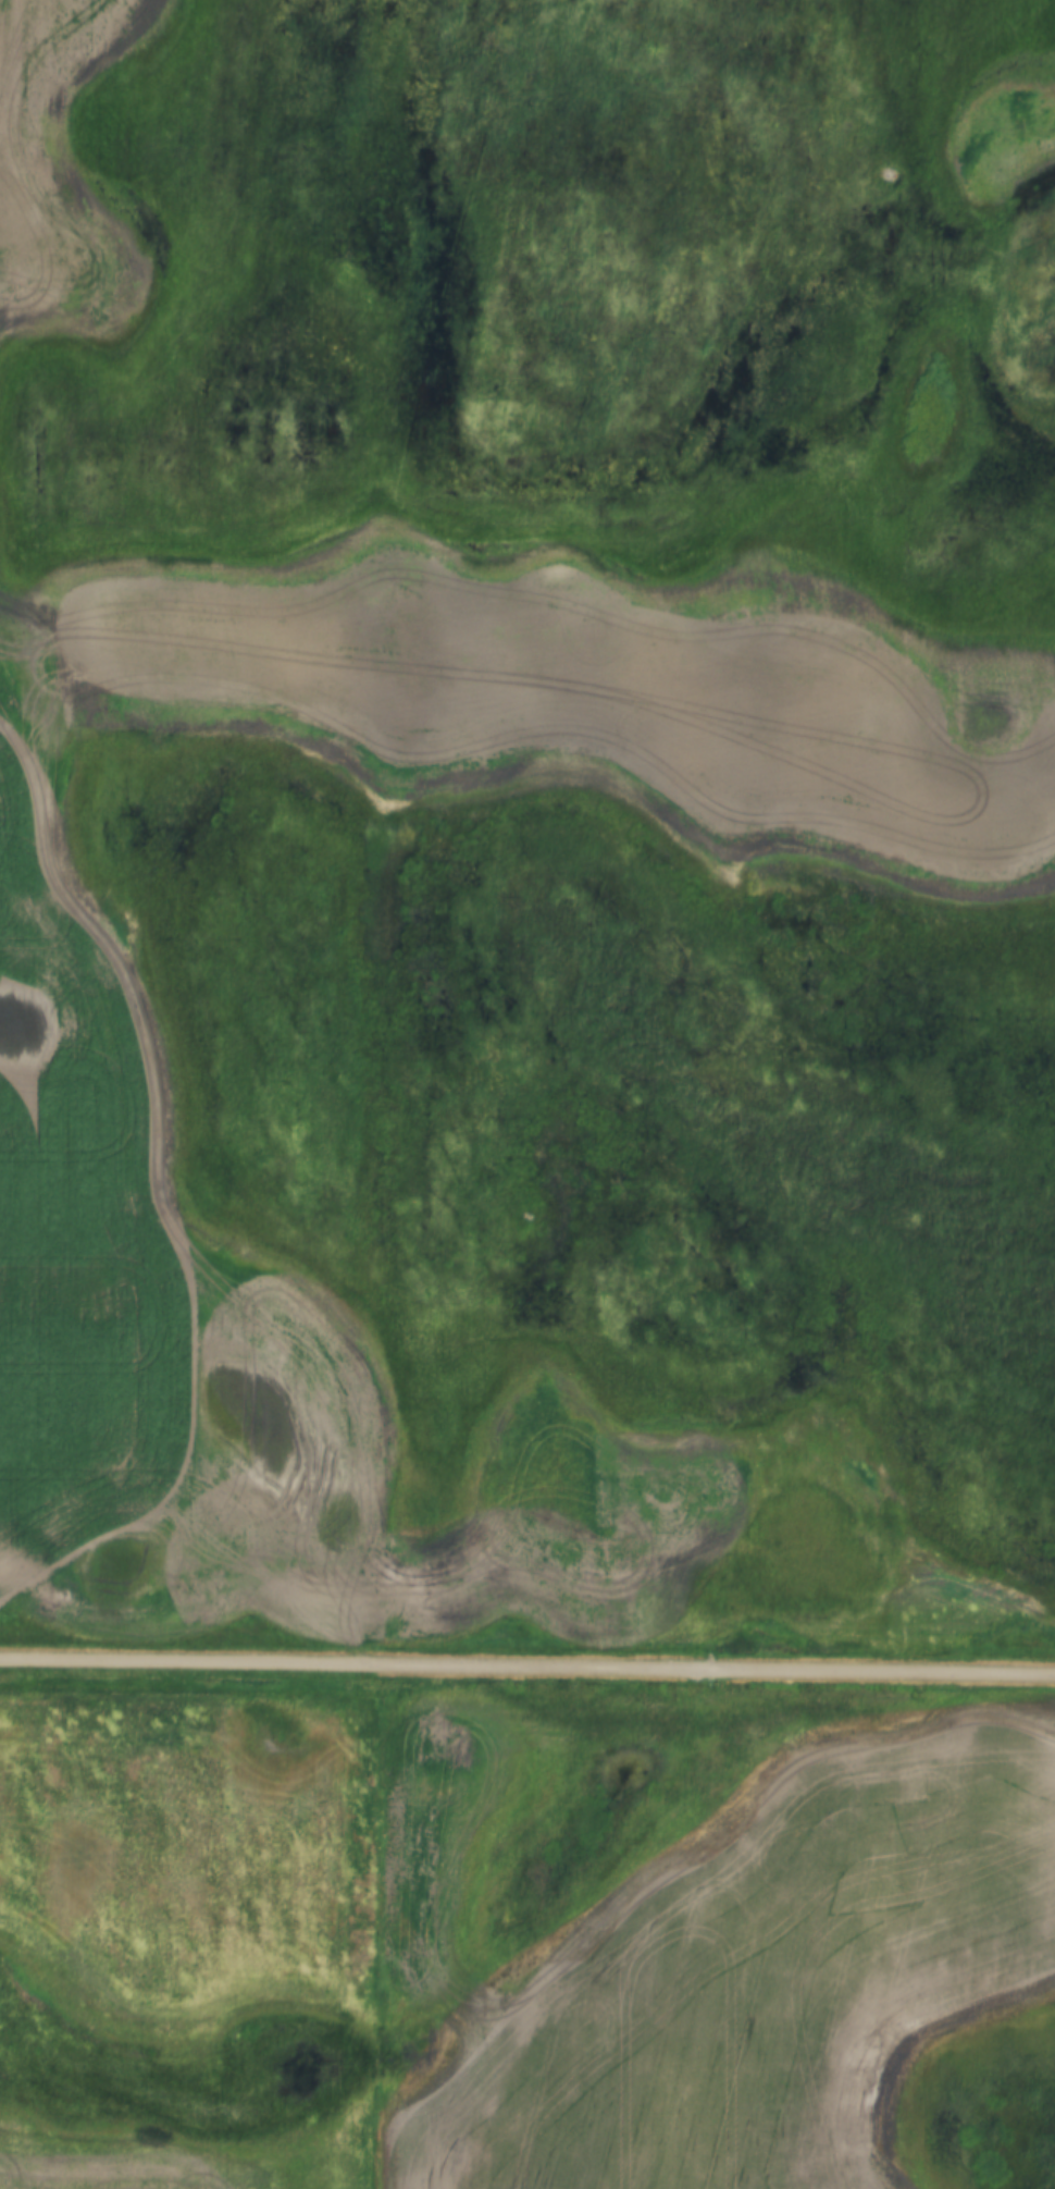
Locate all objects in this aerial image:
road: (527, 1664)

